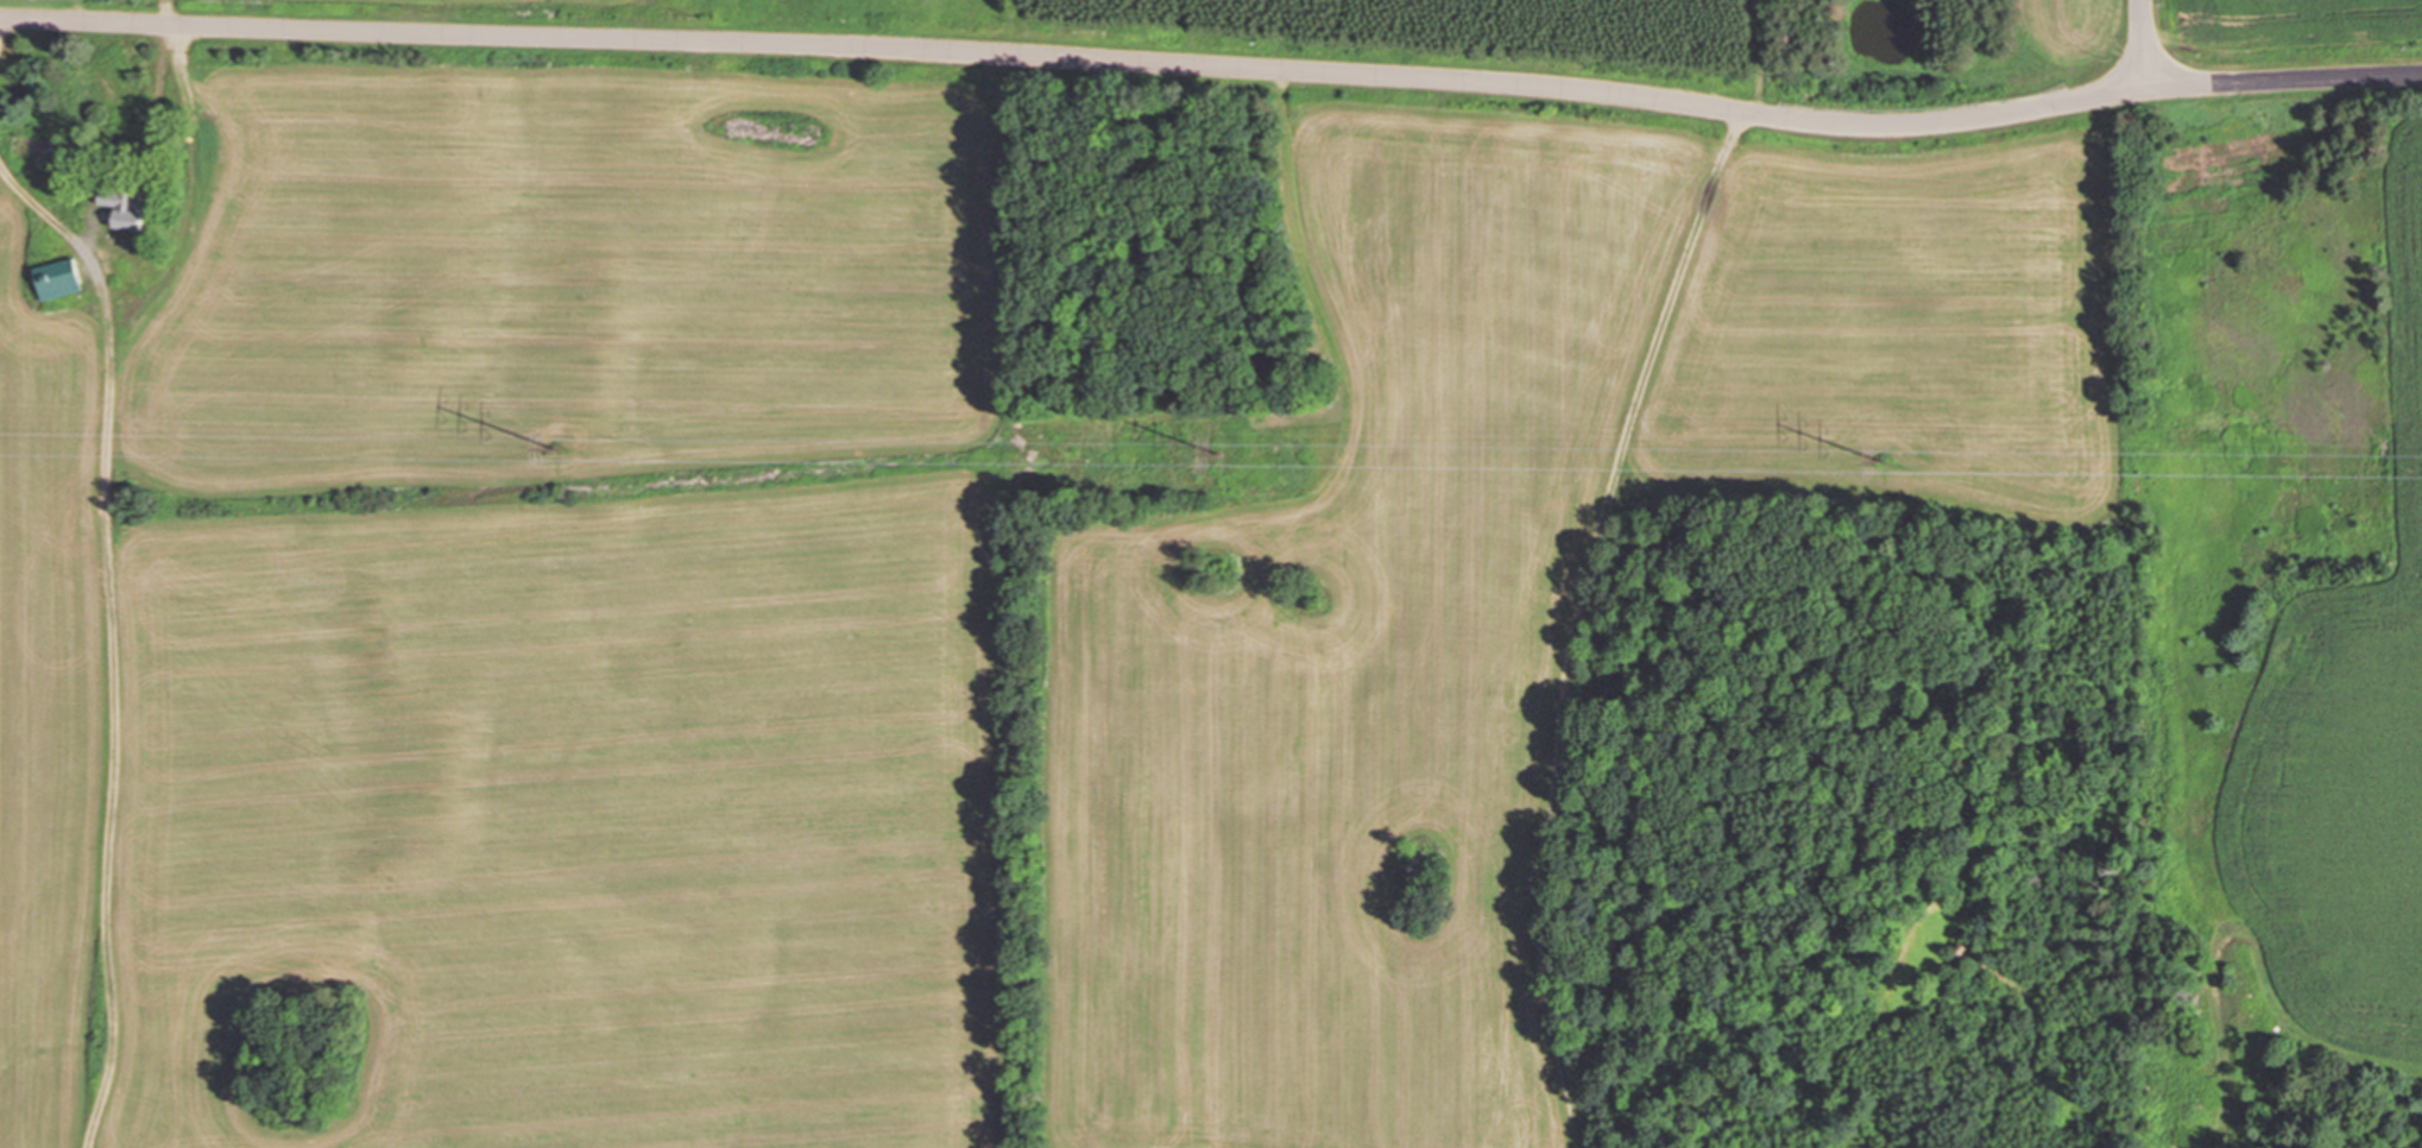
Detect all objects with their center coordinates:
road: (2145, 43)
road: (1215, 64)
building: (119, 207)
power tower: (557, 447)
power tower: (1218, 453)
power tower: (1885, 459)

